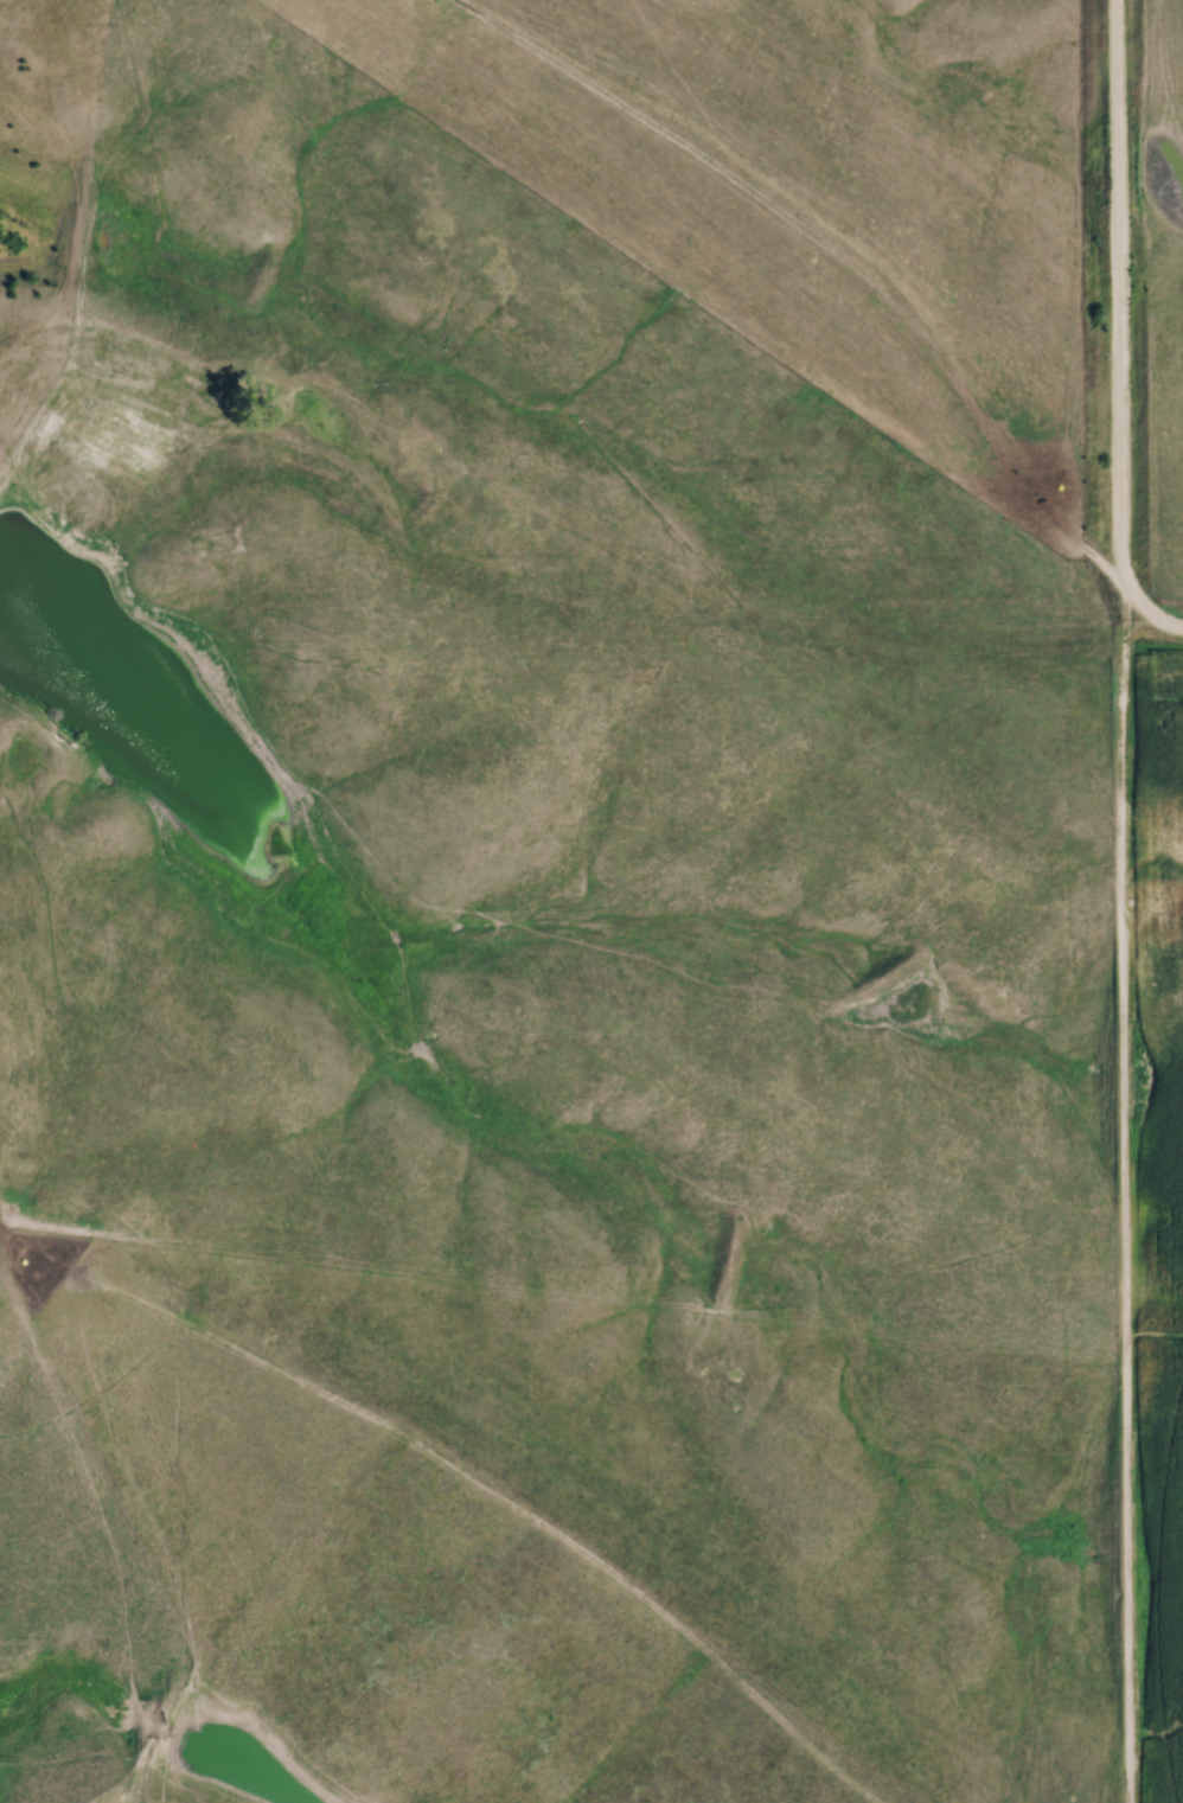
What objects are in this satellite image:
road: (1119, 276)
road: (1137, 606)

